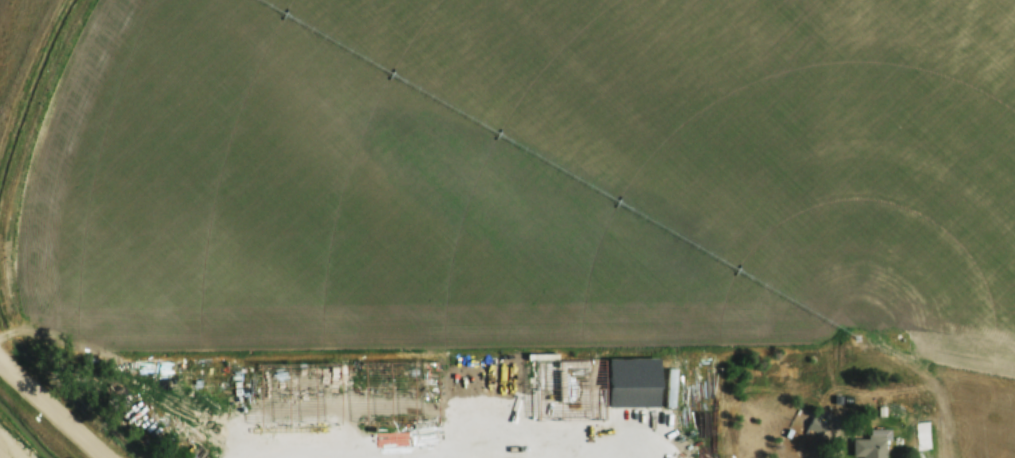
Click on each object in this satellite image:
road: (53, 406)
building: (817, 424)
road: (840, 437)
building: (869, 446)

